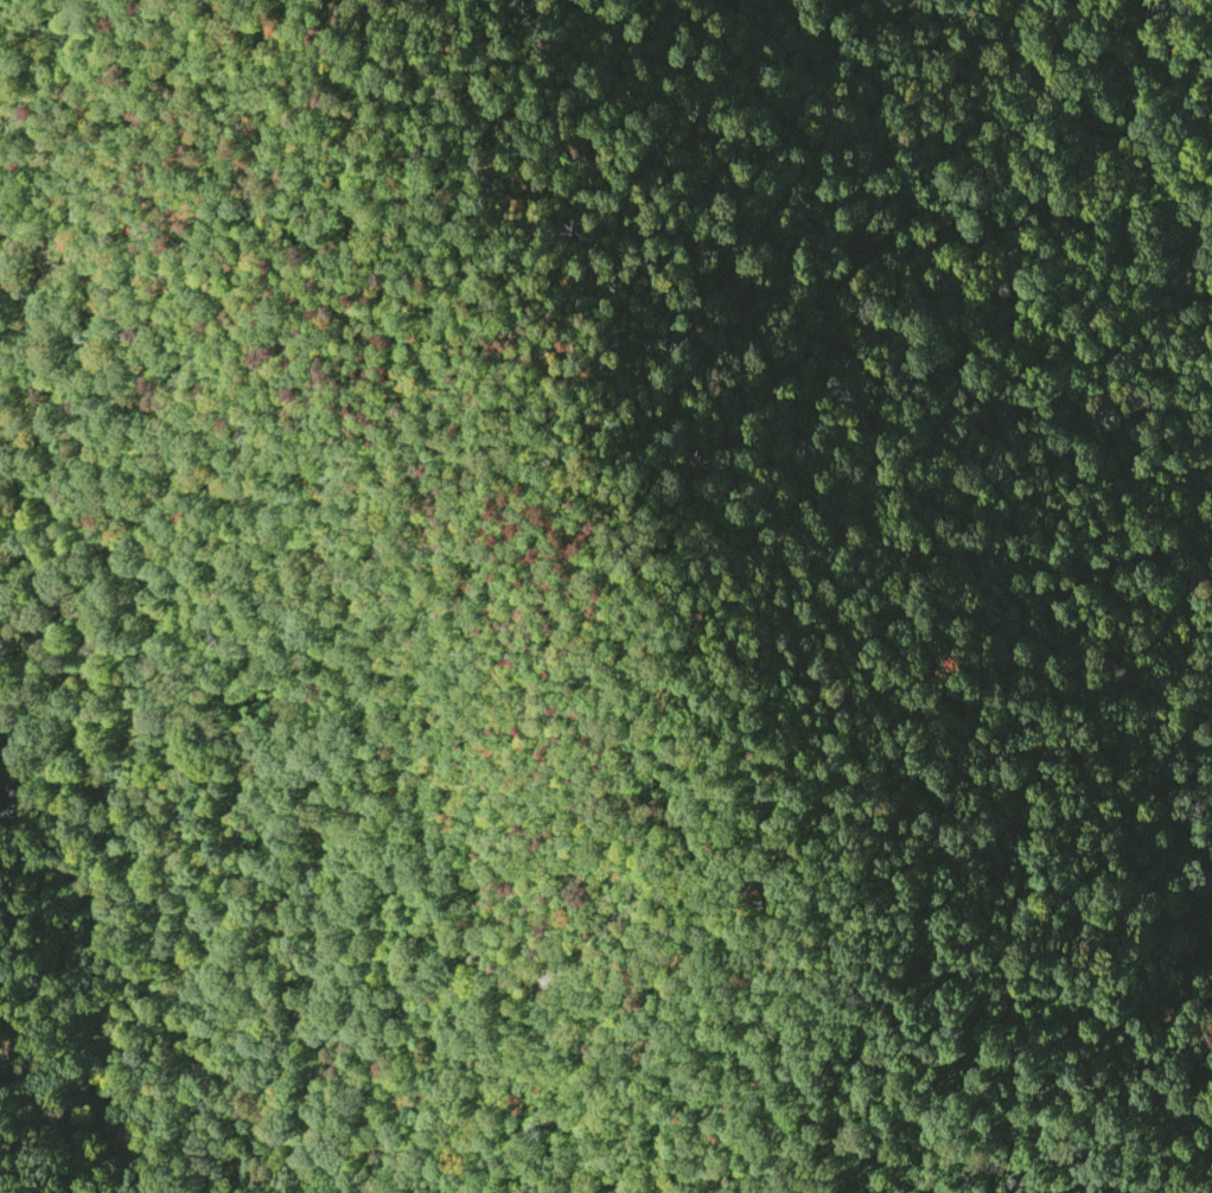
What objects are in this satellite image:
road: (332, 247)

